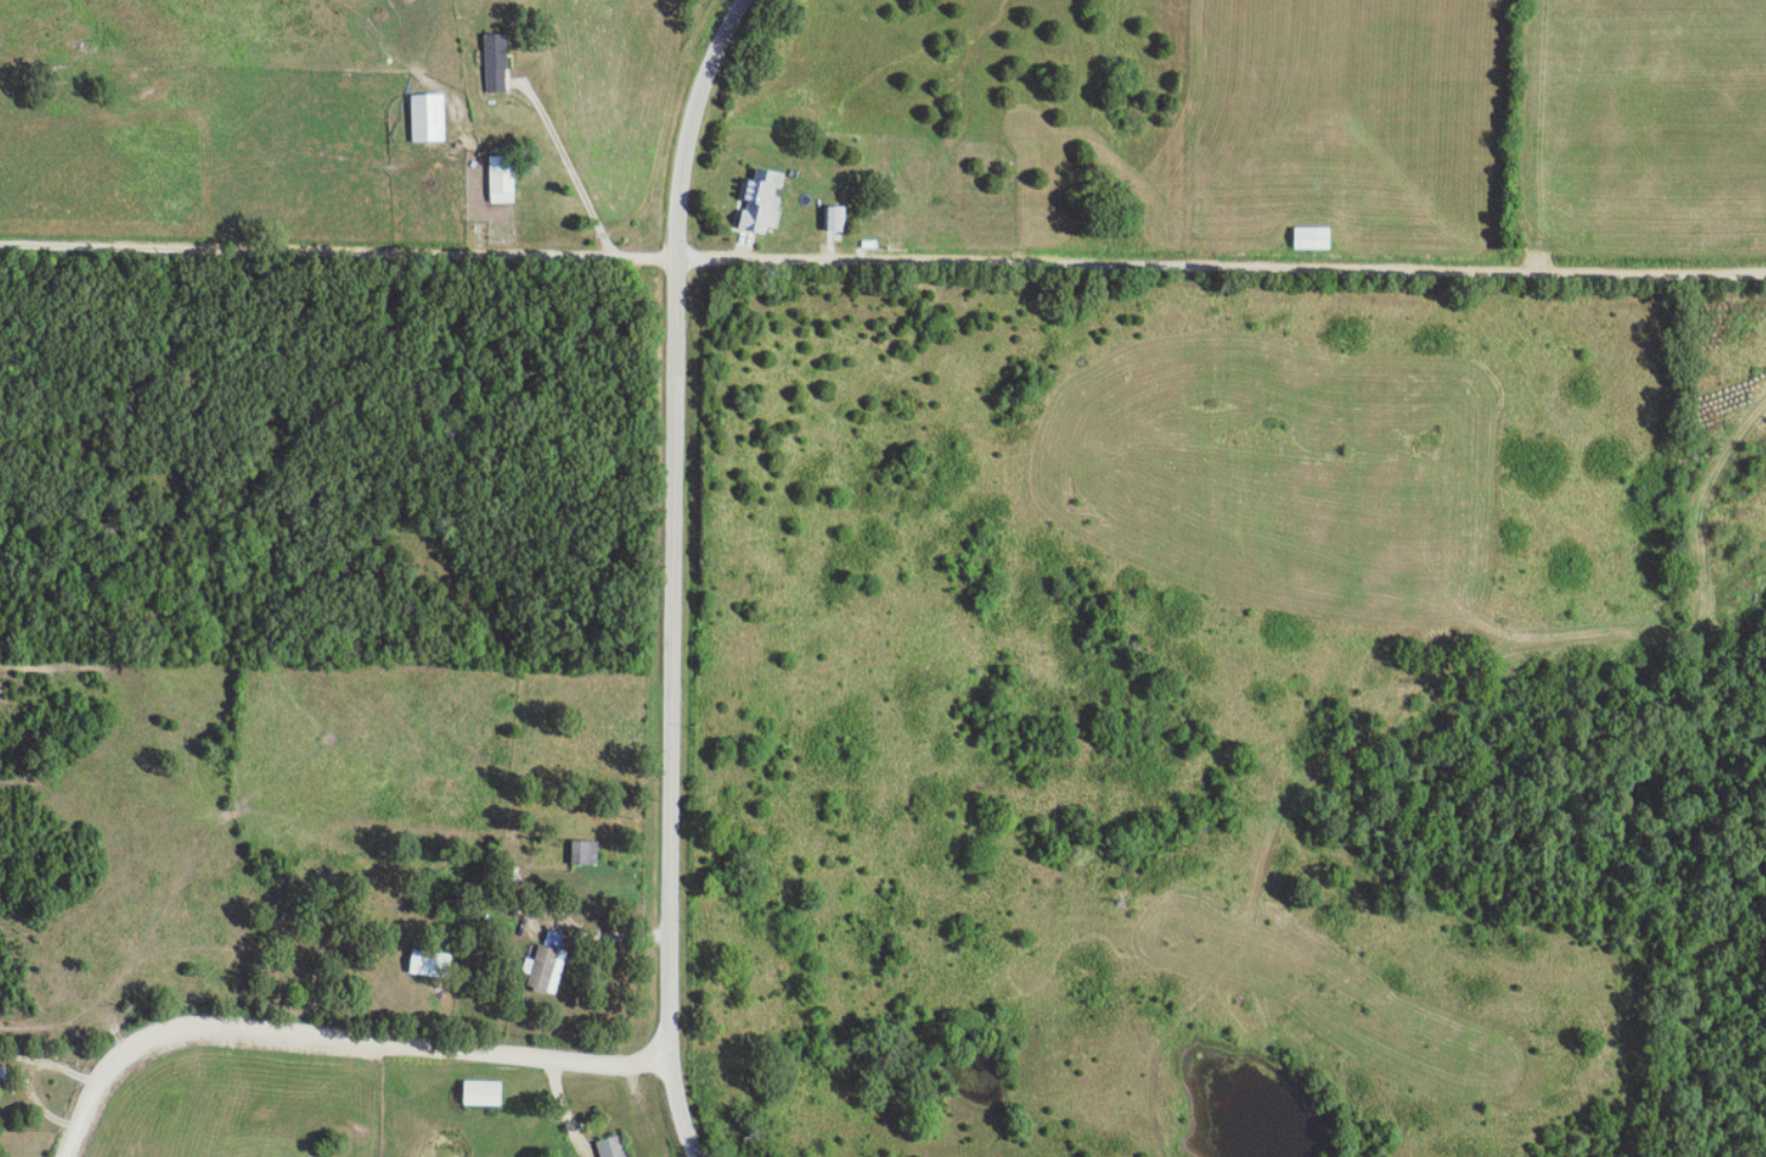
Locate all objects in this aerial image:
building: (494, 62)
building: (427, 116)
road: (576, 170)
building: (499, 178)
building: (757, 198)
building: (832, 217)
building: (1310, 236)
road: (882, 257)
road: (682, 574)
building: (583, 851)
road: (612, 931)
building: (425, 961)
building: (543, 969)
road: (343, 1041)
building: (1, 1070)
building: (480, 1093)
building: (614, 1146)

